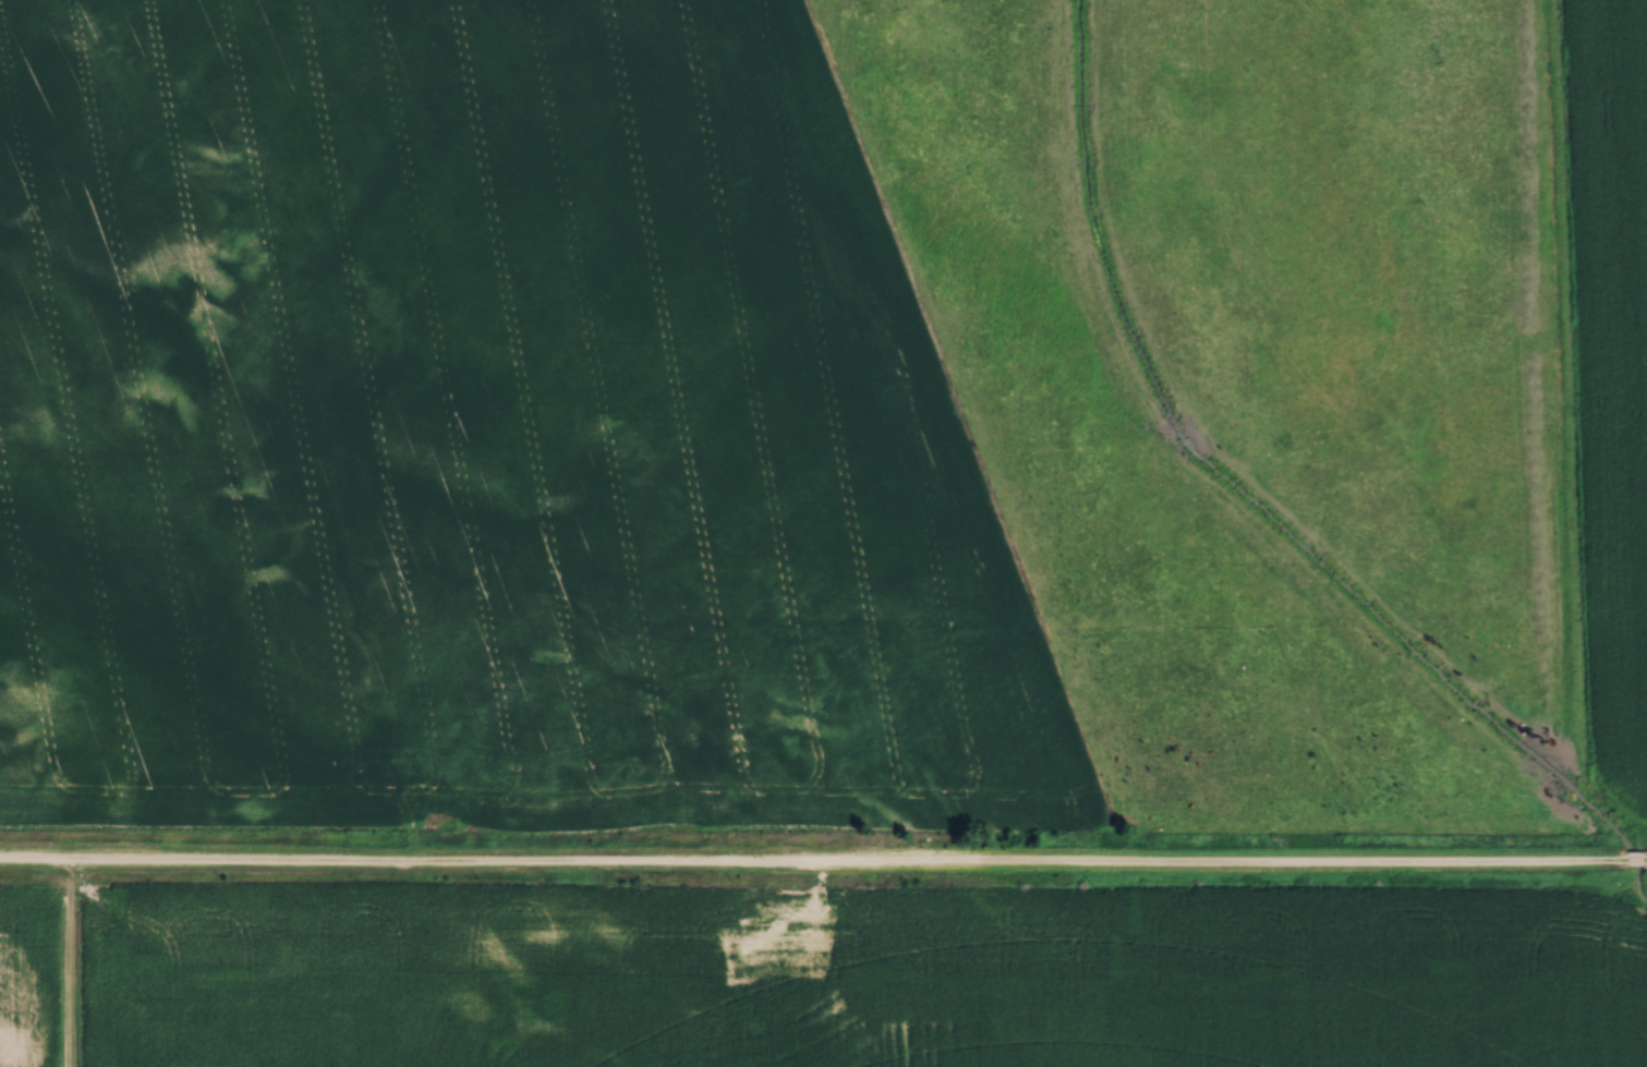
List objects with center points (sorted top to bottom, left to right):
road: (717, 802)
road: (1635, 859)
road: (1644, 859)
road: (814, 864)

